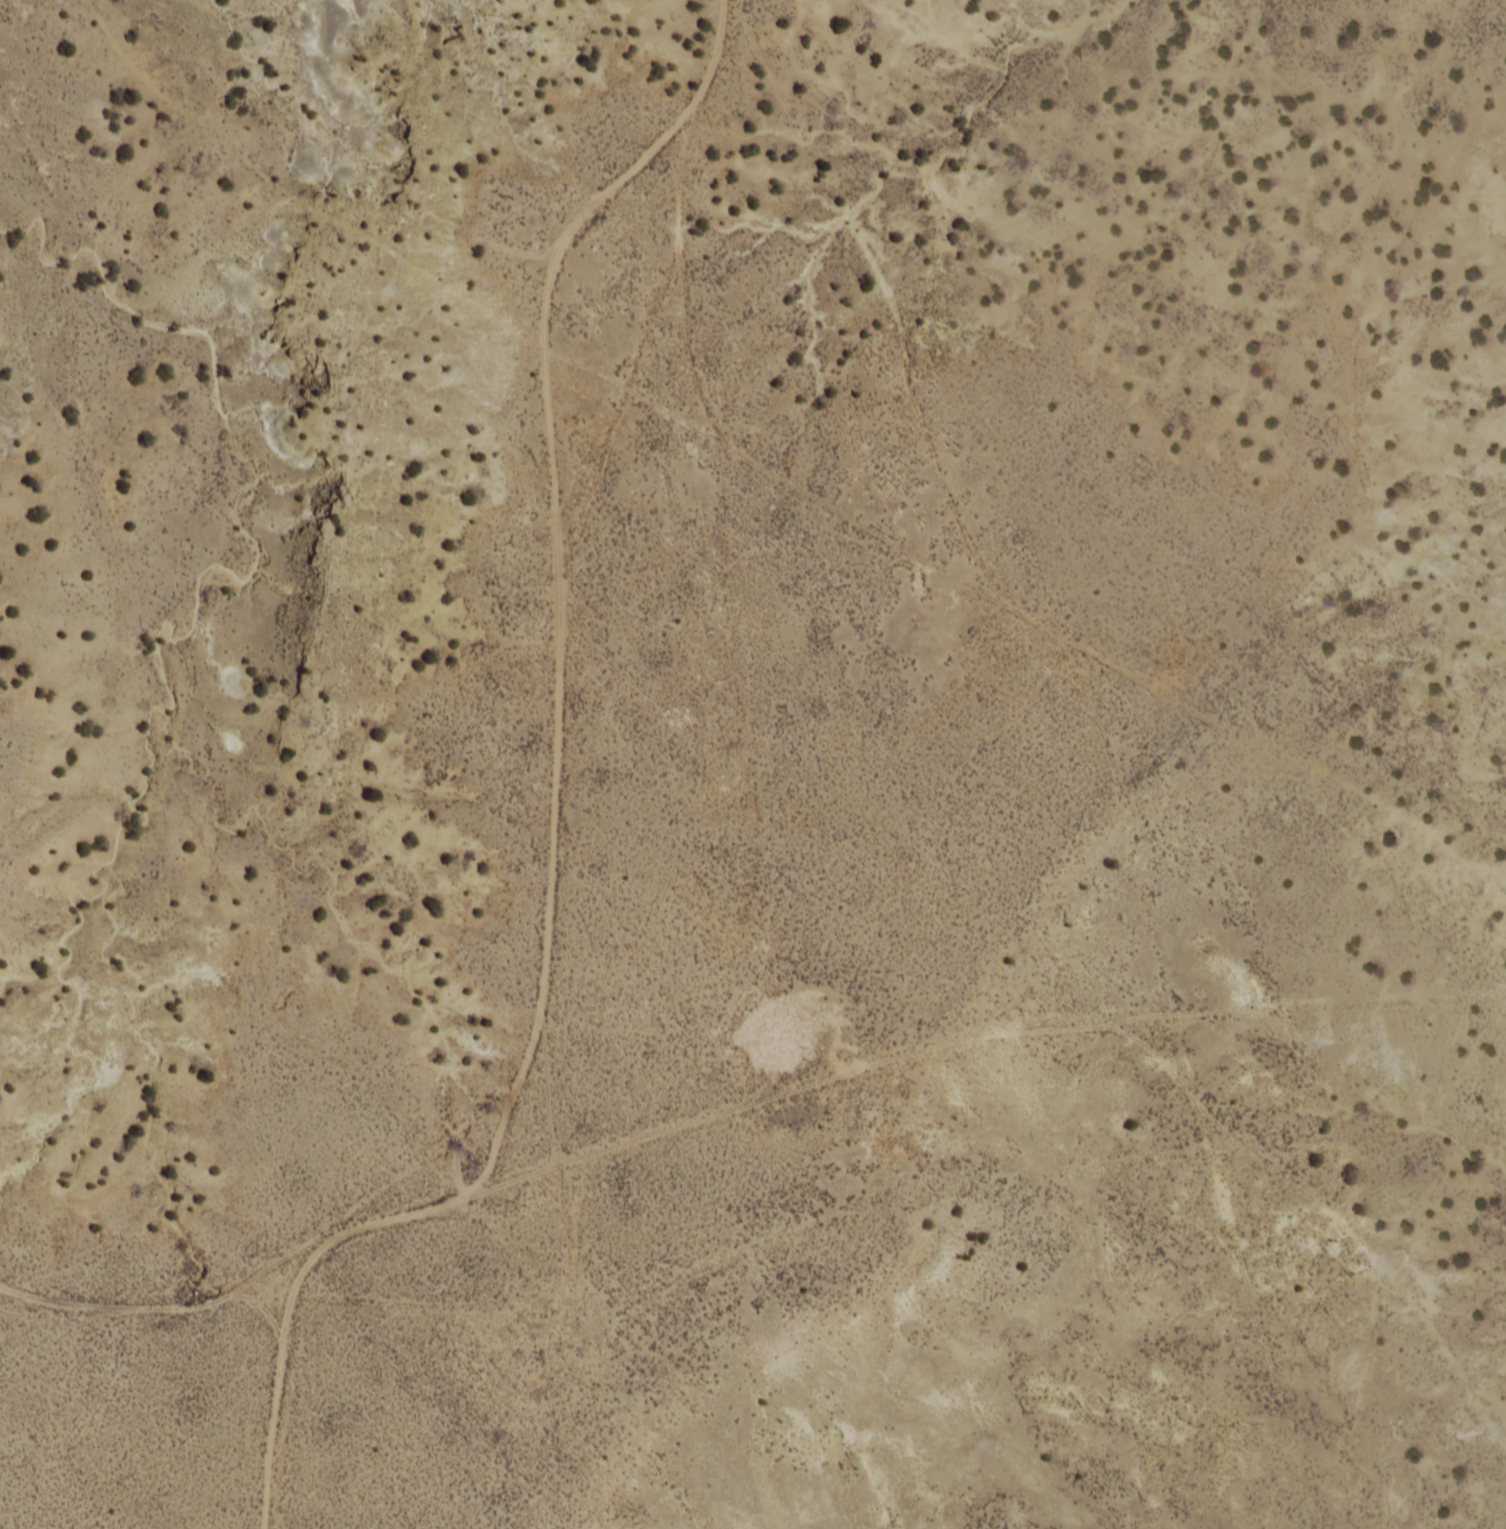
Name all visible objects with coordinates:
road: (858, 530)
road: (553, 617)
road: (1338, 1011)
road: (991, 1038)
road: (403, 1220)
road: (1328, 1232)
road: (171, 1303)
road: (272, 1375)

